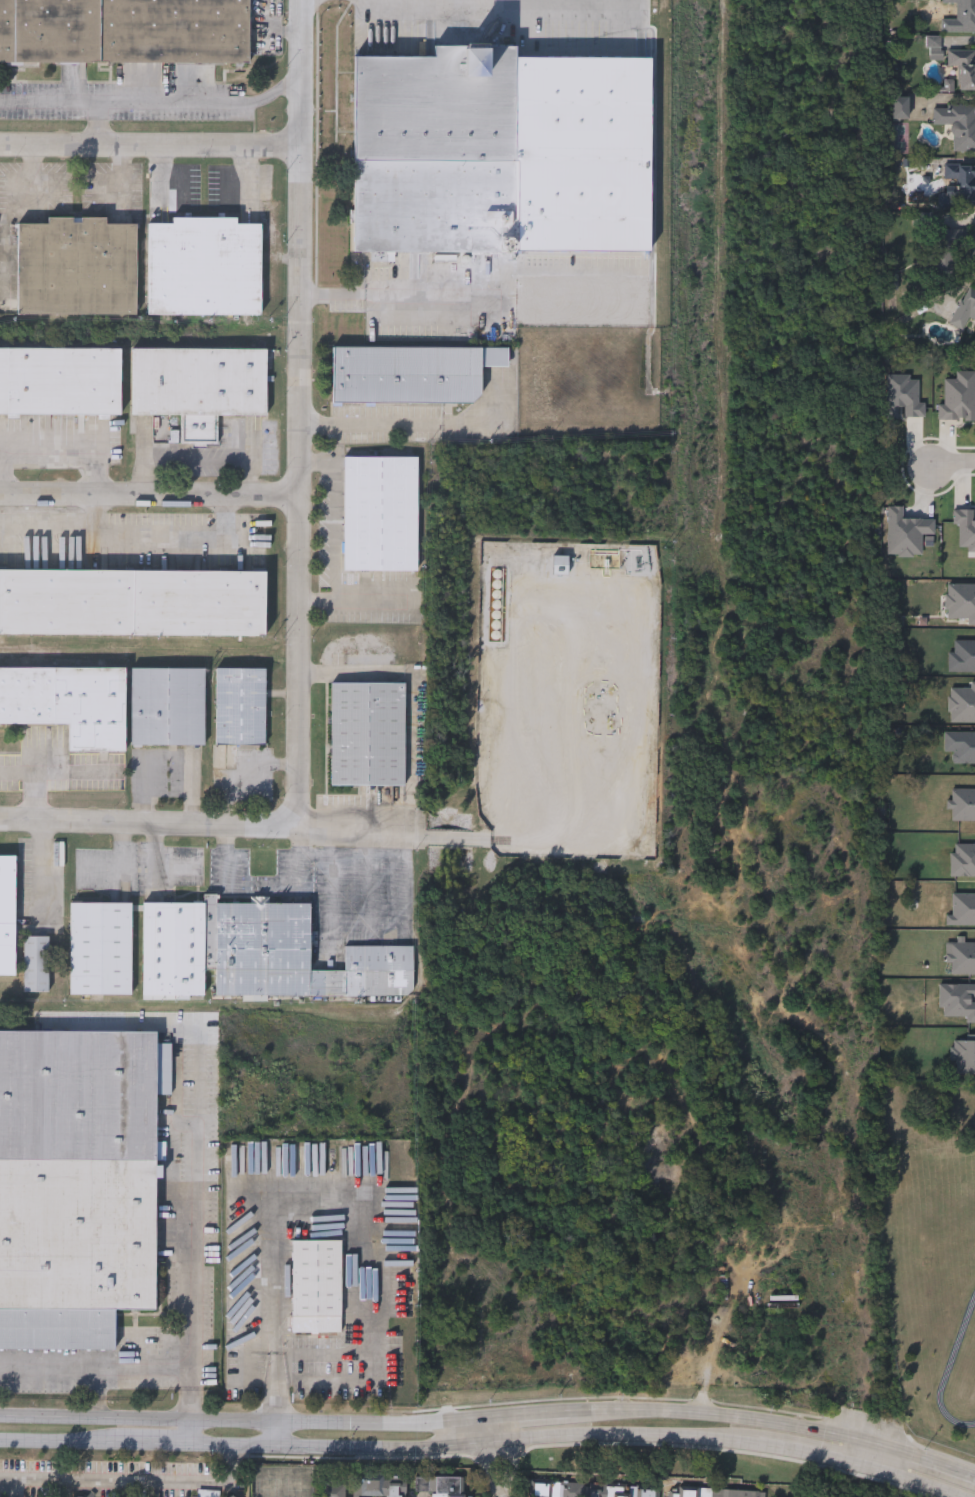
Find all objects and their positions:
building: (960, 17)
building: (124, 31)
road: (268, 31)
building: (961, 70)
road: (152, 102)
building: (901, 108)
road: (99, 124)
building: (957, 125)
road: (150, 146)
building: (435, 151)
building: (958, 186)
building: (943, 254)
building: (76, 267)
building: (203, 267)
road: (476, 306)
building: (965, 308)
building: (411, 374)
building: (60, 382)
building: (199, 382)
road: (301, 416)
road: (396, 422)
road: (72, 445)
road: (203, 452)
road: (320, 464)
road: (953, 466)
road: (4, 471)
road: (150, 475)
road: (254, 476)
road: (150, 498)
building: (380, 514)
road: (96, 515)
road: (128, 533)
road: (337, 534)
road: (351, 597)
building: (132, 602)
building: (68, 703)
building: (168, 706)
building: (240, 706)
building: (973, 707)
building: (367, 734)
road: (169, 754)
road: (37, 776)
road: (146, 825)
road: (349, 826)
road: (227, 858)
road: (296, 858)
building: (7, 914)
building: (100, 949)
building: (173, 950)
building: (291, 955)
building: (36, 965)
building: (77, 1184)
building: (330, 1205)
road: (275, 1268)
building: (316, 1287)
building: (723, 1288)
road: (196, 1300)
road: (97, 1364)
road: (723, 1413)
road: (531, 1416)
road: (245, 1422)
road: (190, 1432)
road: (273, 1436)
road: (56, 1442)
road: (151, 1444)
road: (475, 1445)
road: (811, 1452)
road: (867, 1452)
road: (498, 1458)
road: (923, 1458)
road: (910, 1480)
road: (136, 1482)
building: (440, 1486)
road: (23, 1488)
building: (375, 1488)
building: (332, 1490)
building: (589, 1490)
building: (713, 1493)
building: (231, 1496)

